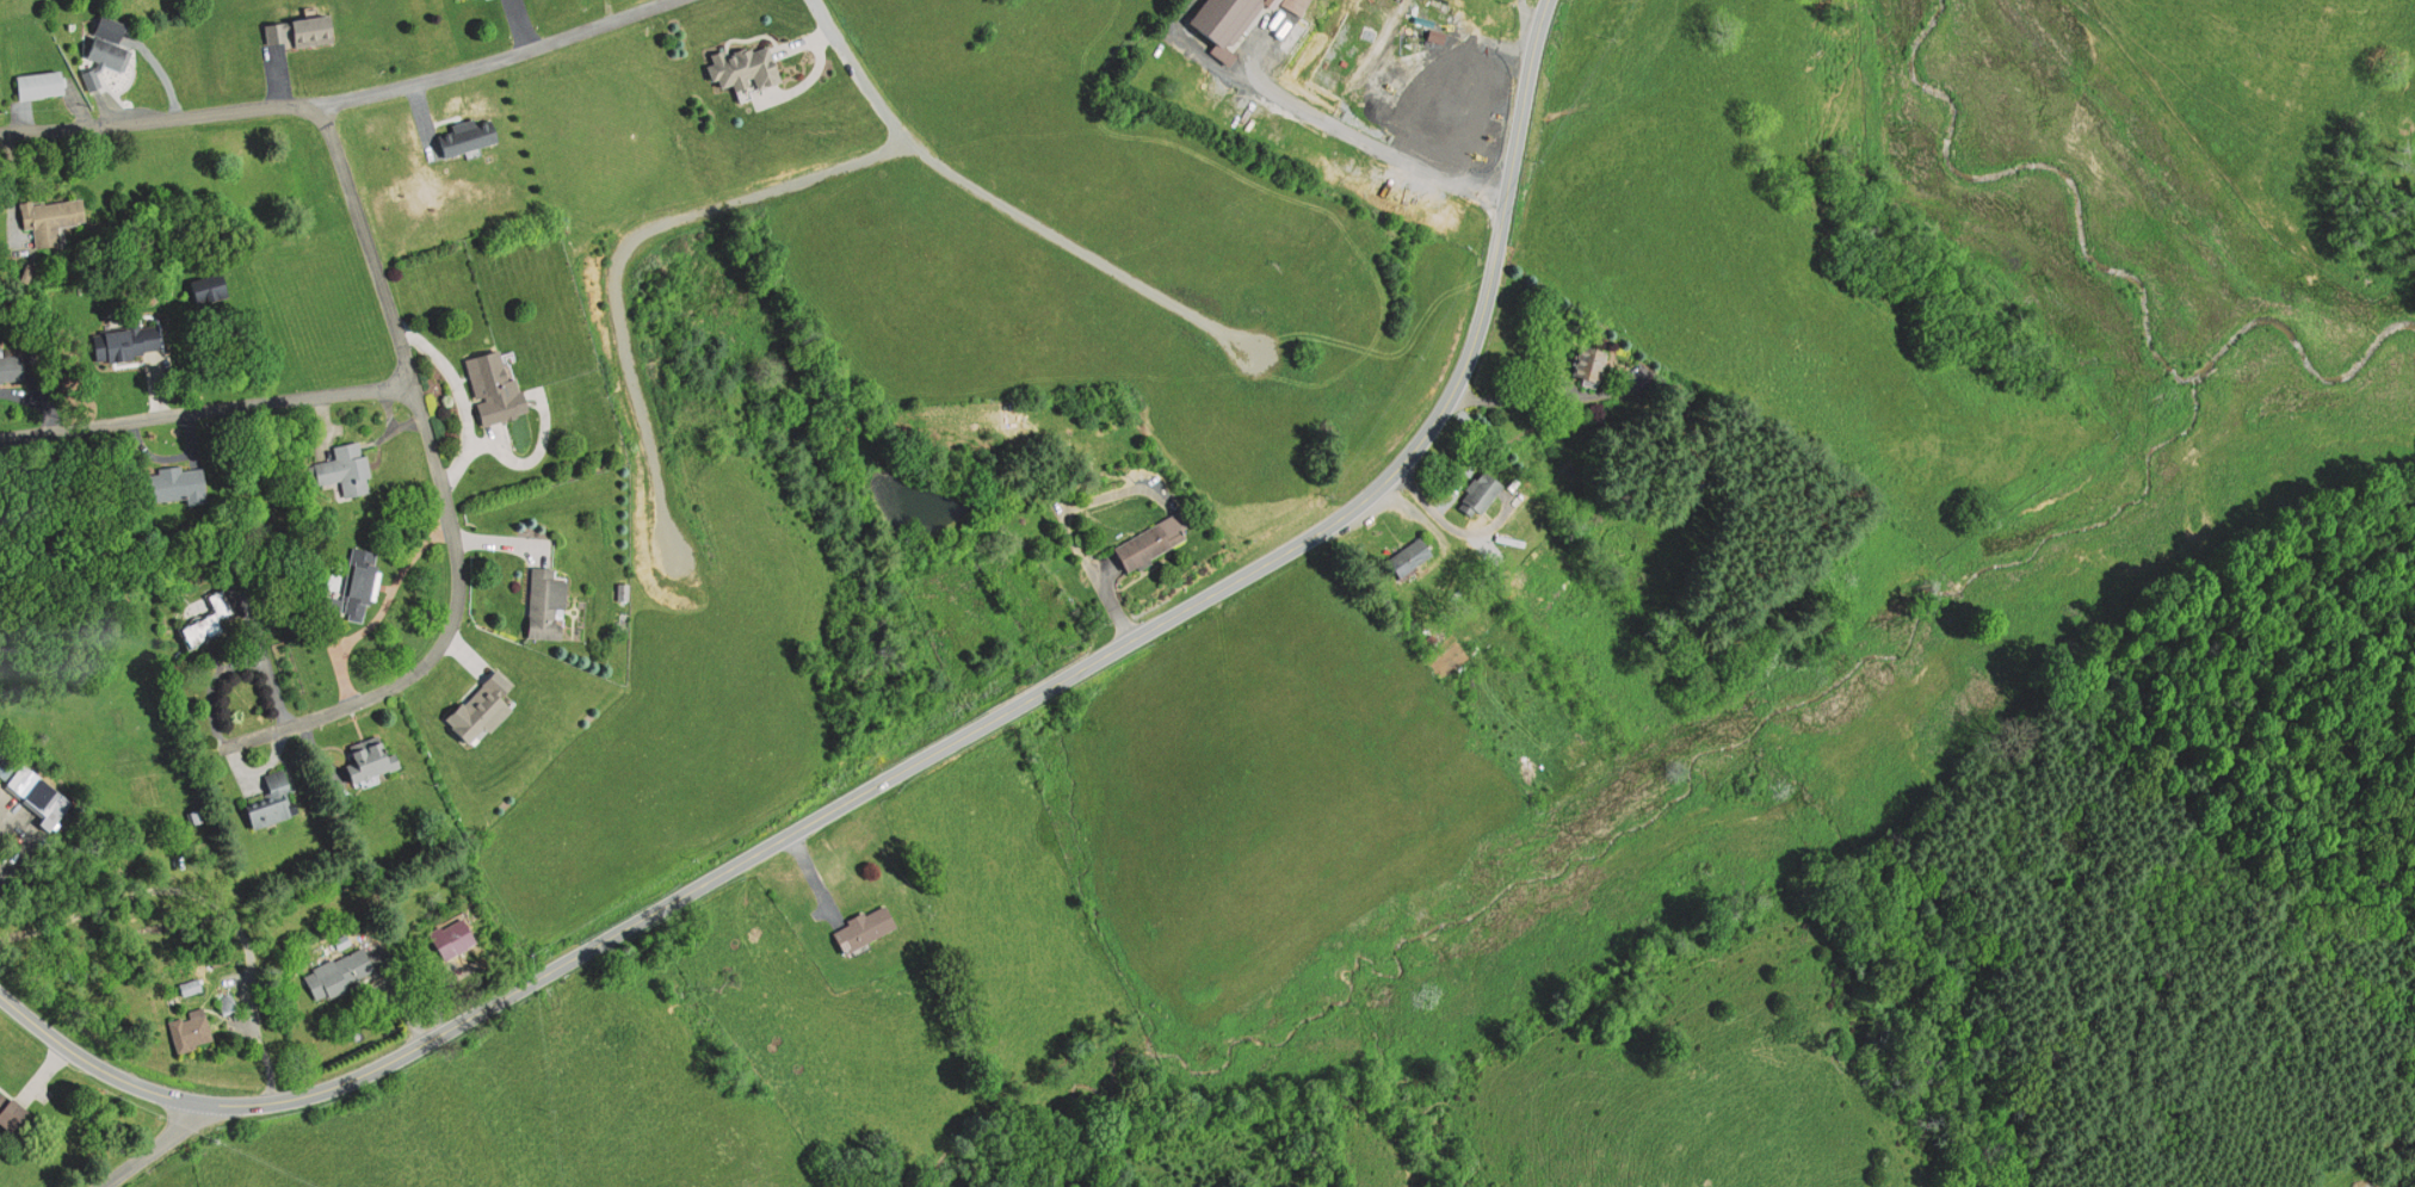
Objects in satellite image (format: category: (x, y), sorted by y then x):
building: (458, 0)
building: (1218, 17)
building: (296, 29)
road: (1528, 30)
building: (1394, 31)
building: (111, 60)
building: (740, 67)
road: (462, 69)
building: (45, 84)
road: (126, 123)
building: (462, 135)
road: (1005, 206)
building: (60, 218)
road: (622, 246)
building: (204, 290)
building: (123, 342)
building: (1588, 364)
building: (13, 366)
building: (492, 381)
road: (205, 412)
building: (341, 466)
building: (171, 484)
road: (443, 486)
building: (1481, 494)
road: (1351, 505)
building: (1150, 538)
building: (1407, 555)
building: (352, 583)
building: (544, 602)
building: (208, 617)
building: (478, 704)
building: (364, 762)
building: (39, 789)
building: (270, 800)
building: (861, 927)
building: (450, 935)
building: (338, 971)
building: (189, 1030)
road: (443, 1032)
building: (13, 1115)
road: (154, 1146)

